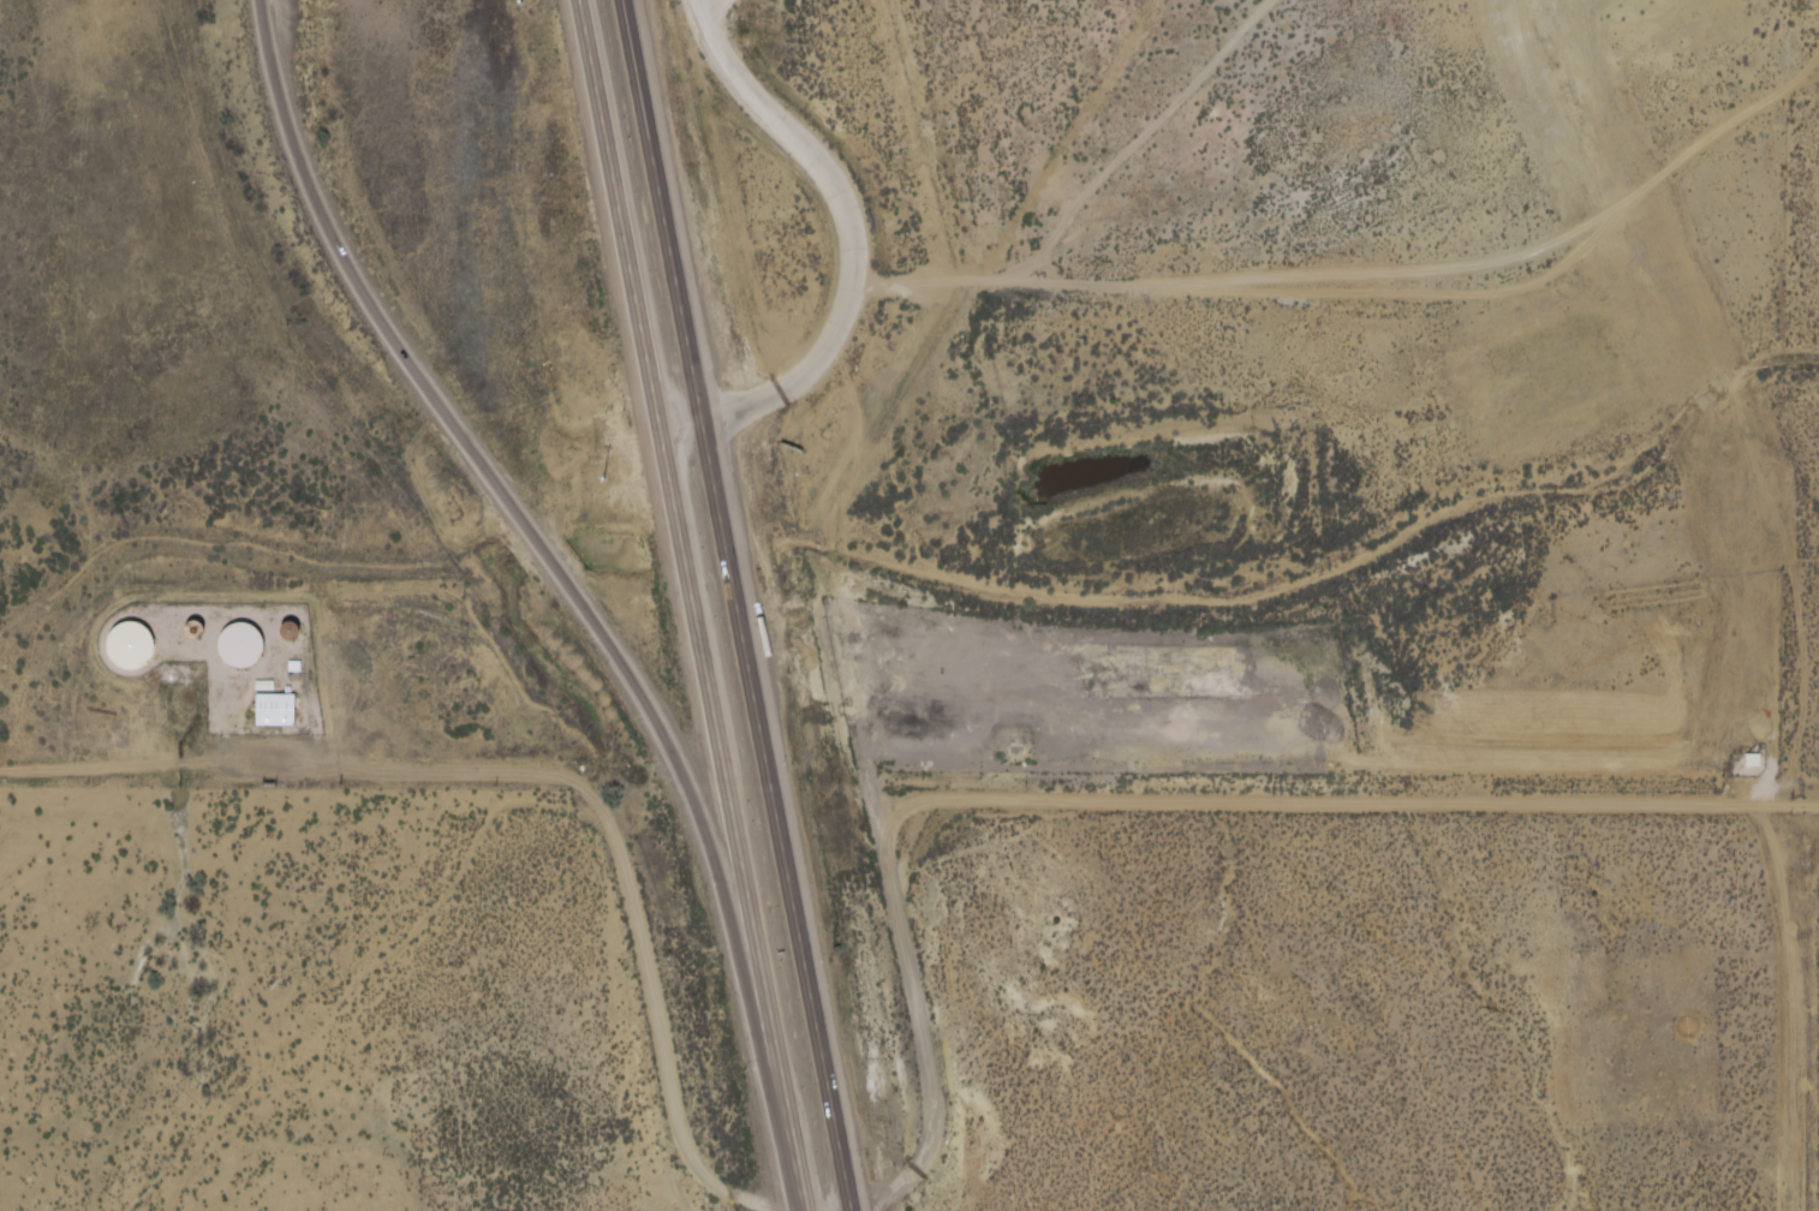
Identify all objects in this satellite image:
road: (851, 250)
road: (1374, 293)
road: (513, 499)
road: (668, 502)
road: (738, 599)
building: (1729, 627)
building: (241, 643)
building: (276, 708)
road: (782, 1108)
road: (925, 1151)
road: (849, 1206)

